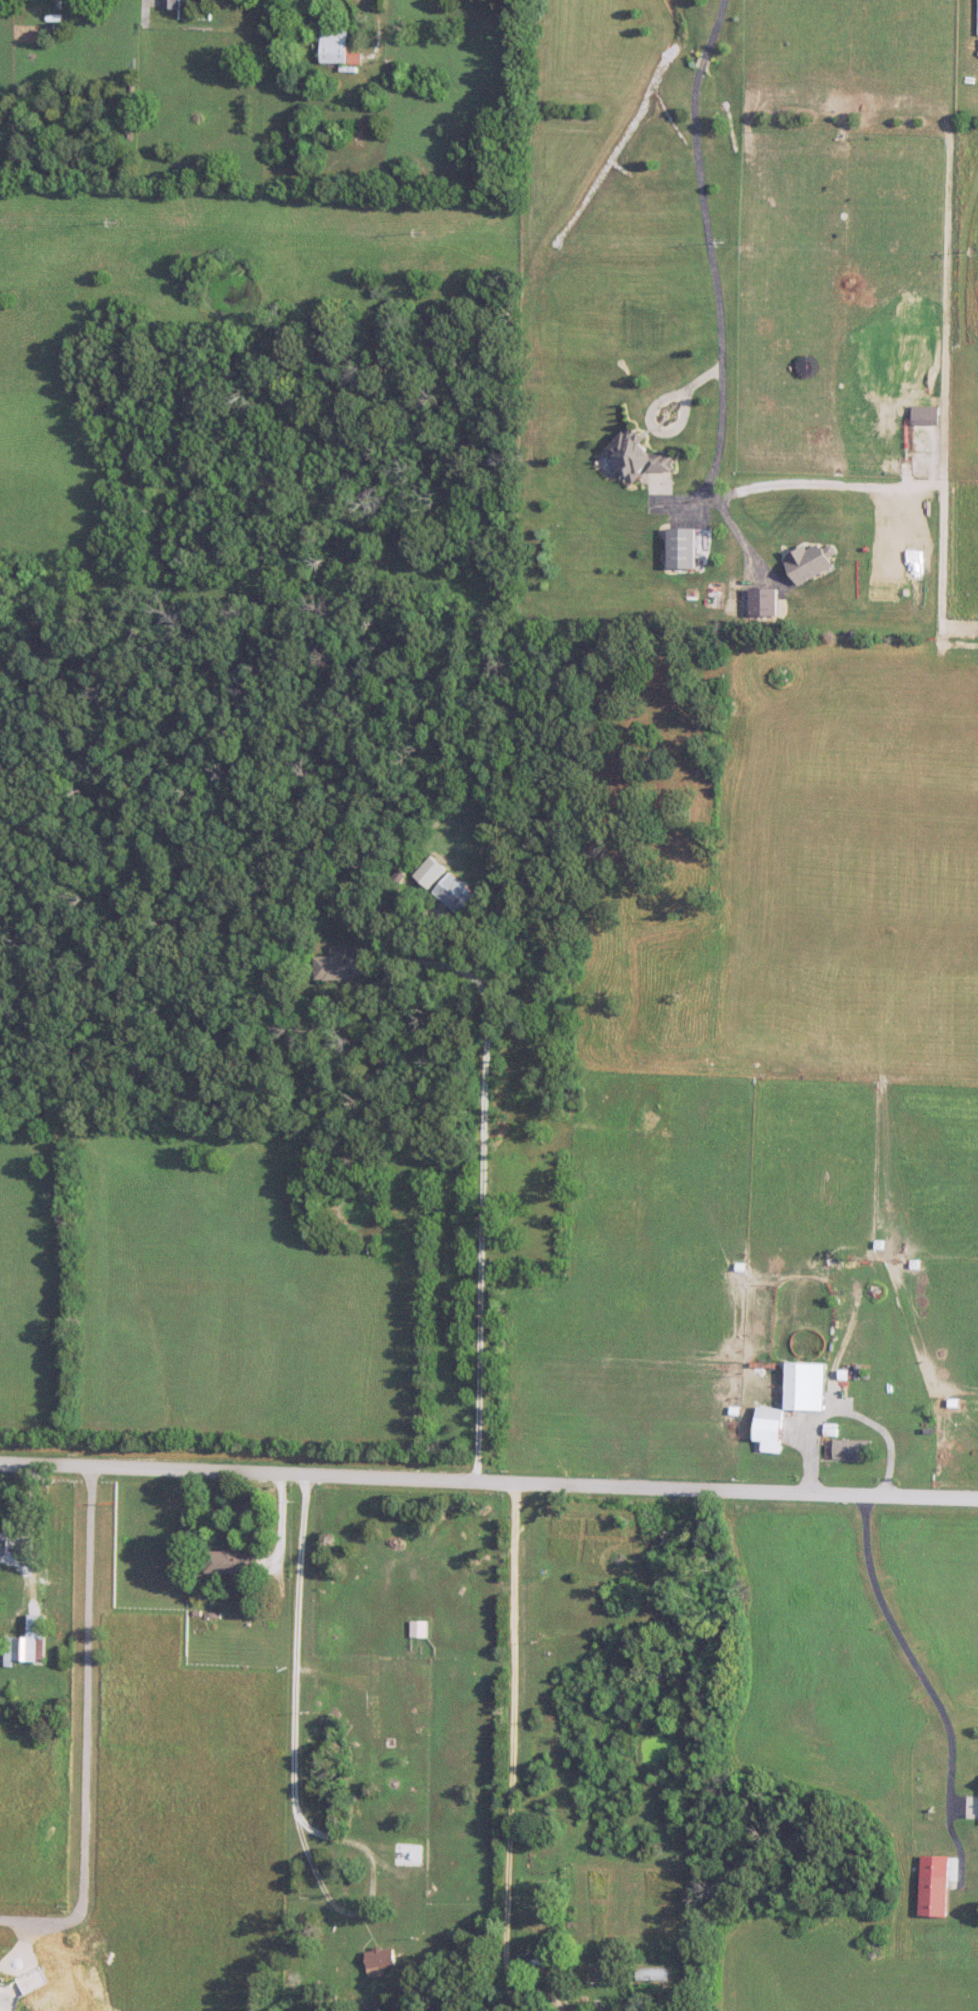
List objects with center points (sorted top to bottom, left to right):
road: (147, 3)
building: (172, 4)
road: (380, 36)
building: (336, 47)
road: (717, 281)
building: (639, 457)
building: (682, 549)
building: (431, 872)
building: (456, 894)
building: (343, 966)
road: (485, 1196)
building: (805, 1387)
building: (879, 1399)
road: (870, 1424)
building: (769, 1425)
building: (853, 1450)
road: (488, 1484)
road: (38, 1541)
building: (229, 1563)
building: (419, 1629)
building: (26, 1643)
road: (924, 1686)
road: (298, 1719)
road: (86, 1736)
road: (509, 1760)
building: (408, 1855)
building: (935, 1897)
building: (380, 1961)
building: (652, 1975)

